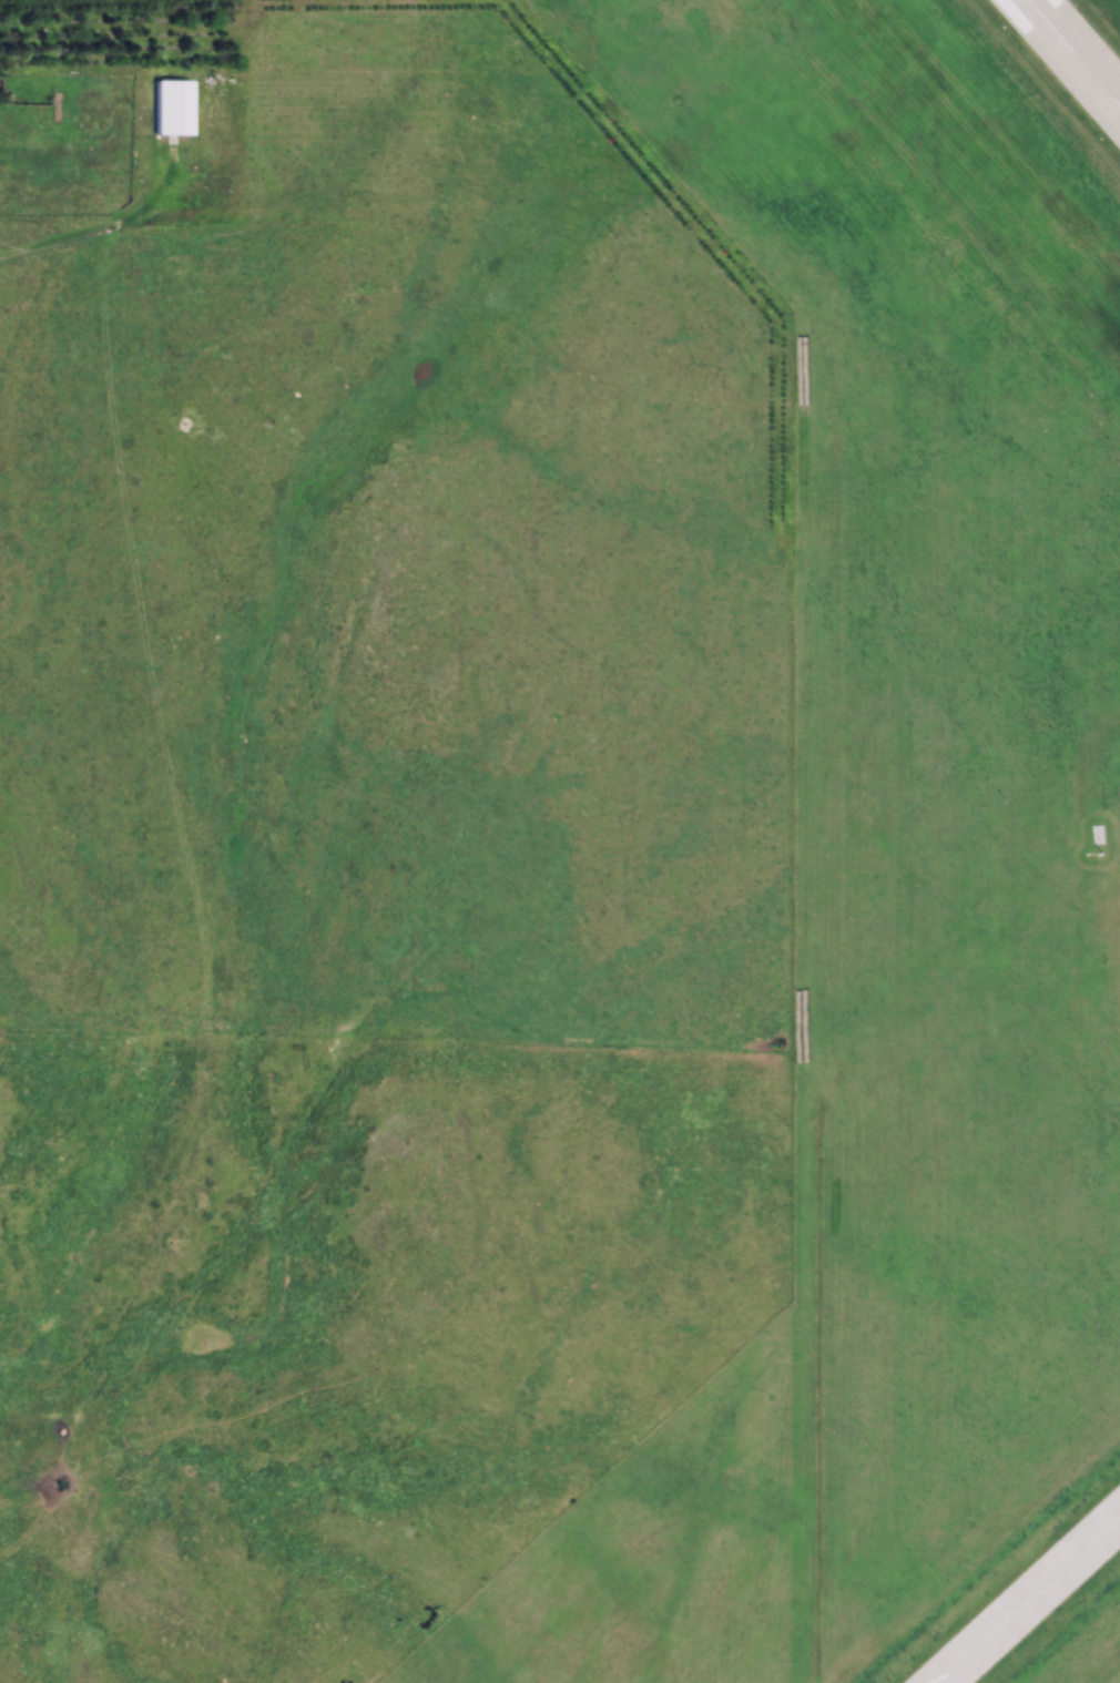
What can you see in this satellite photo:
airport runway: (1075, 51)
building: (1073, 54)
building: (173, 109)
road: (101, 243)
airport: (947, 777)
airport runway: (1030, 1601)

